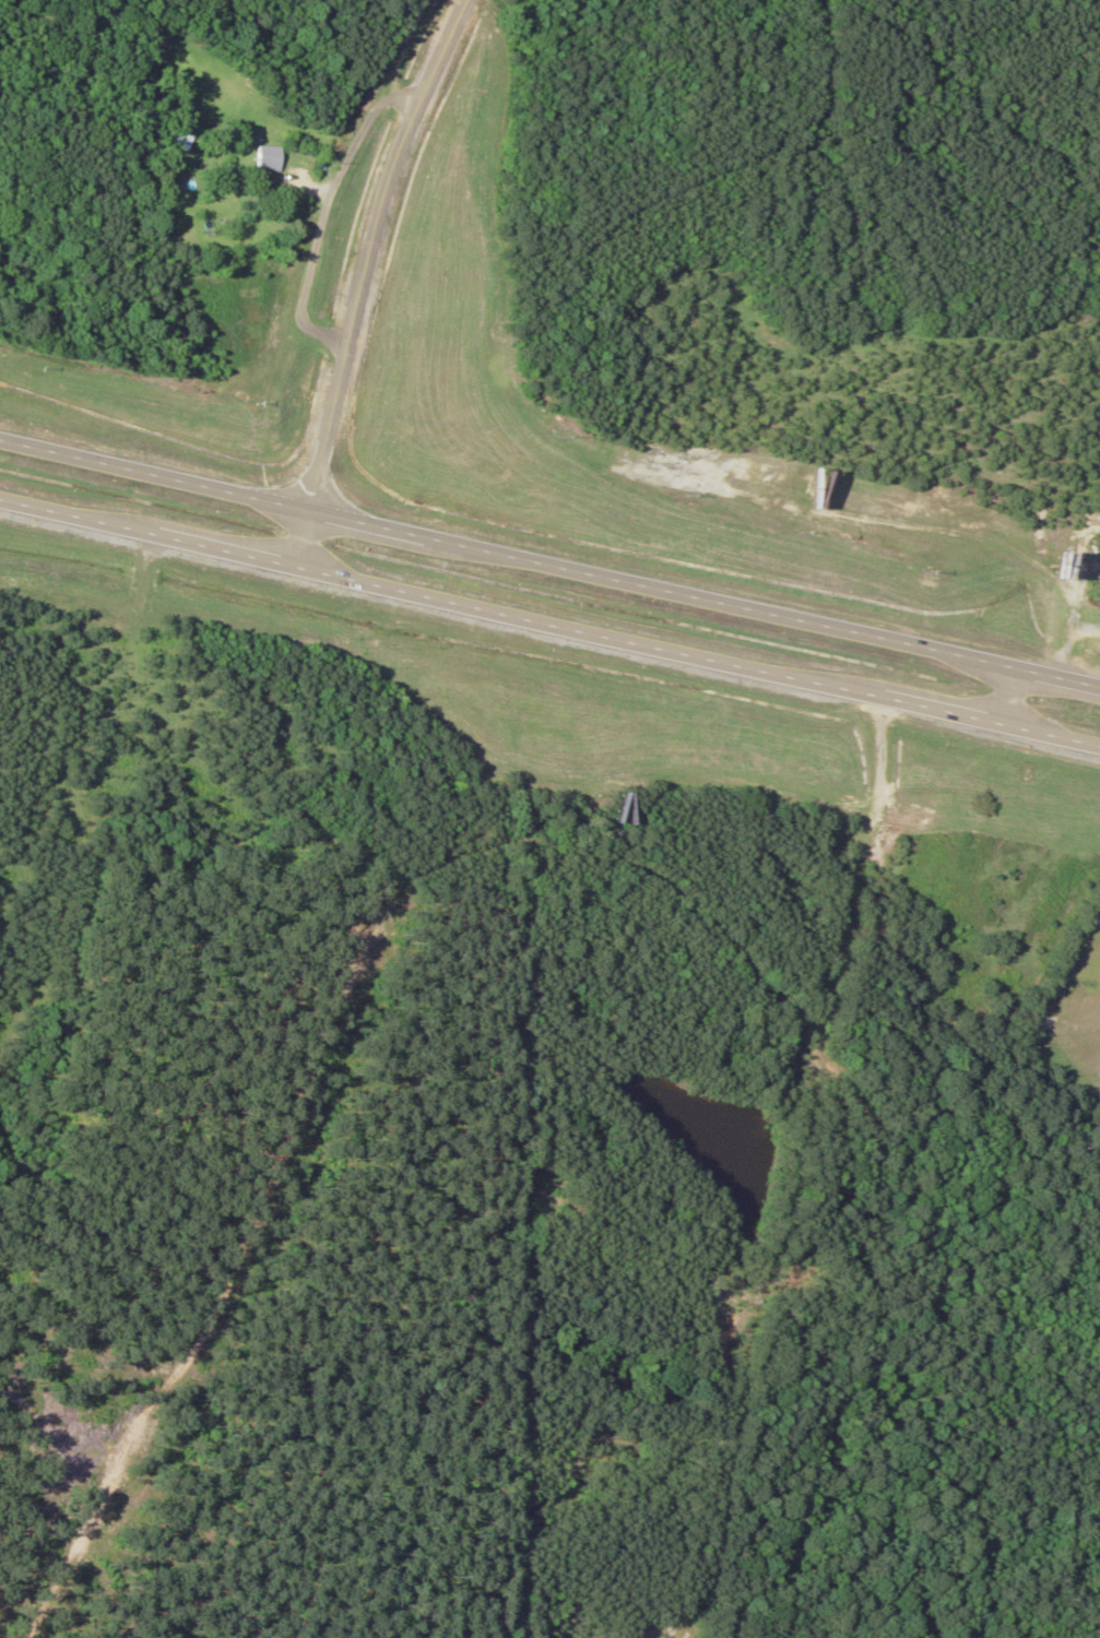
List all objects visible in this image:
building: (259, 157)
road: (369, 280)
road: (551, 559)
road: (549, 624)
road: (1019, 696)
road: (814, 1037)

